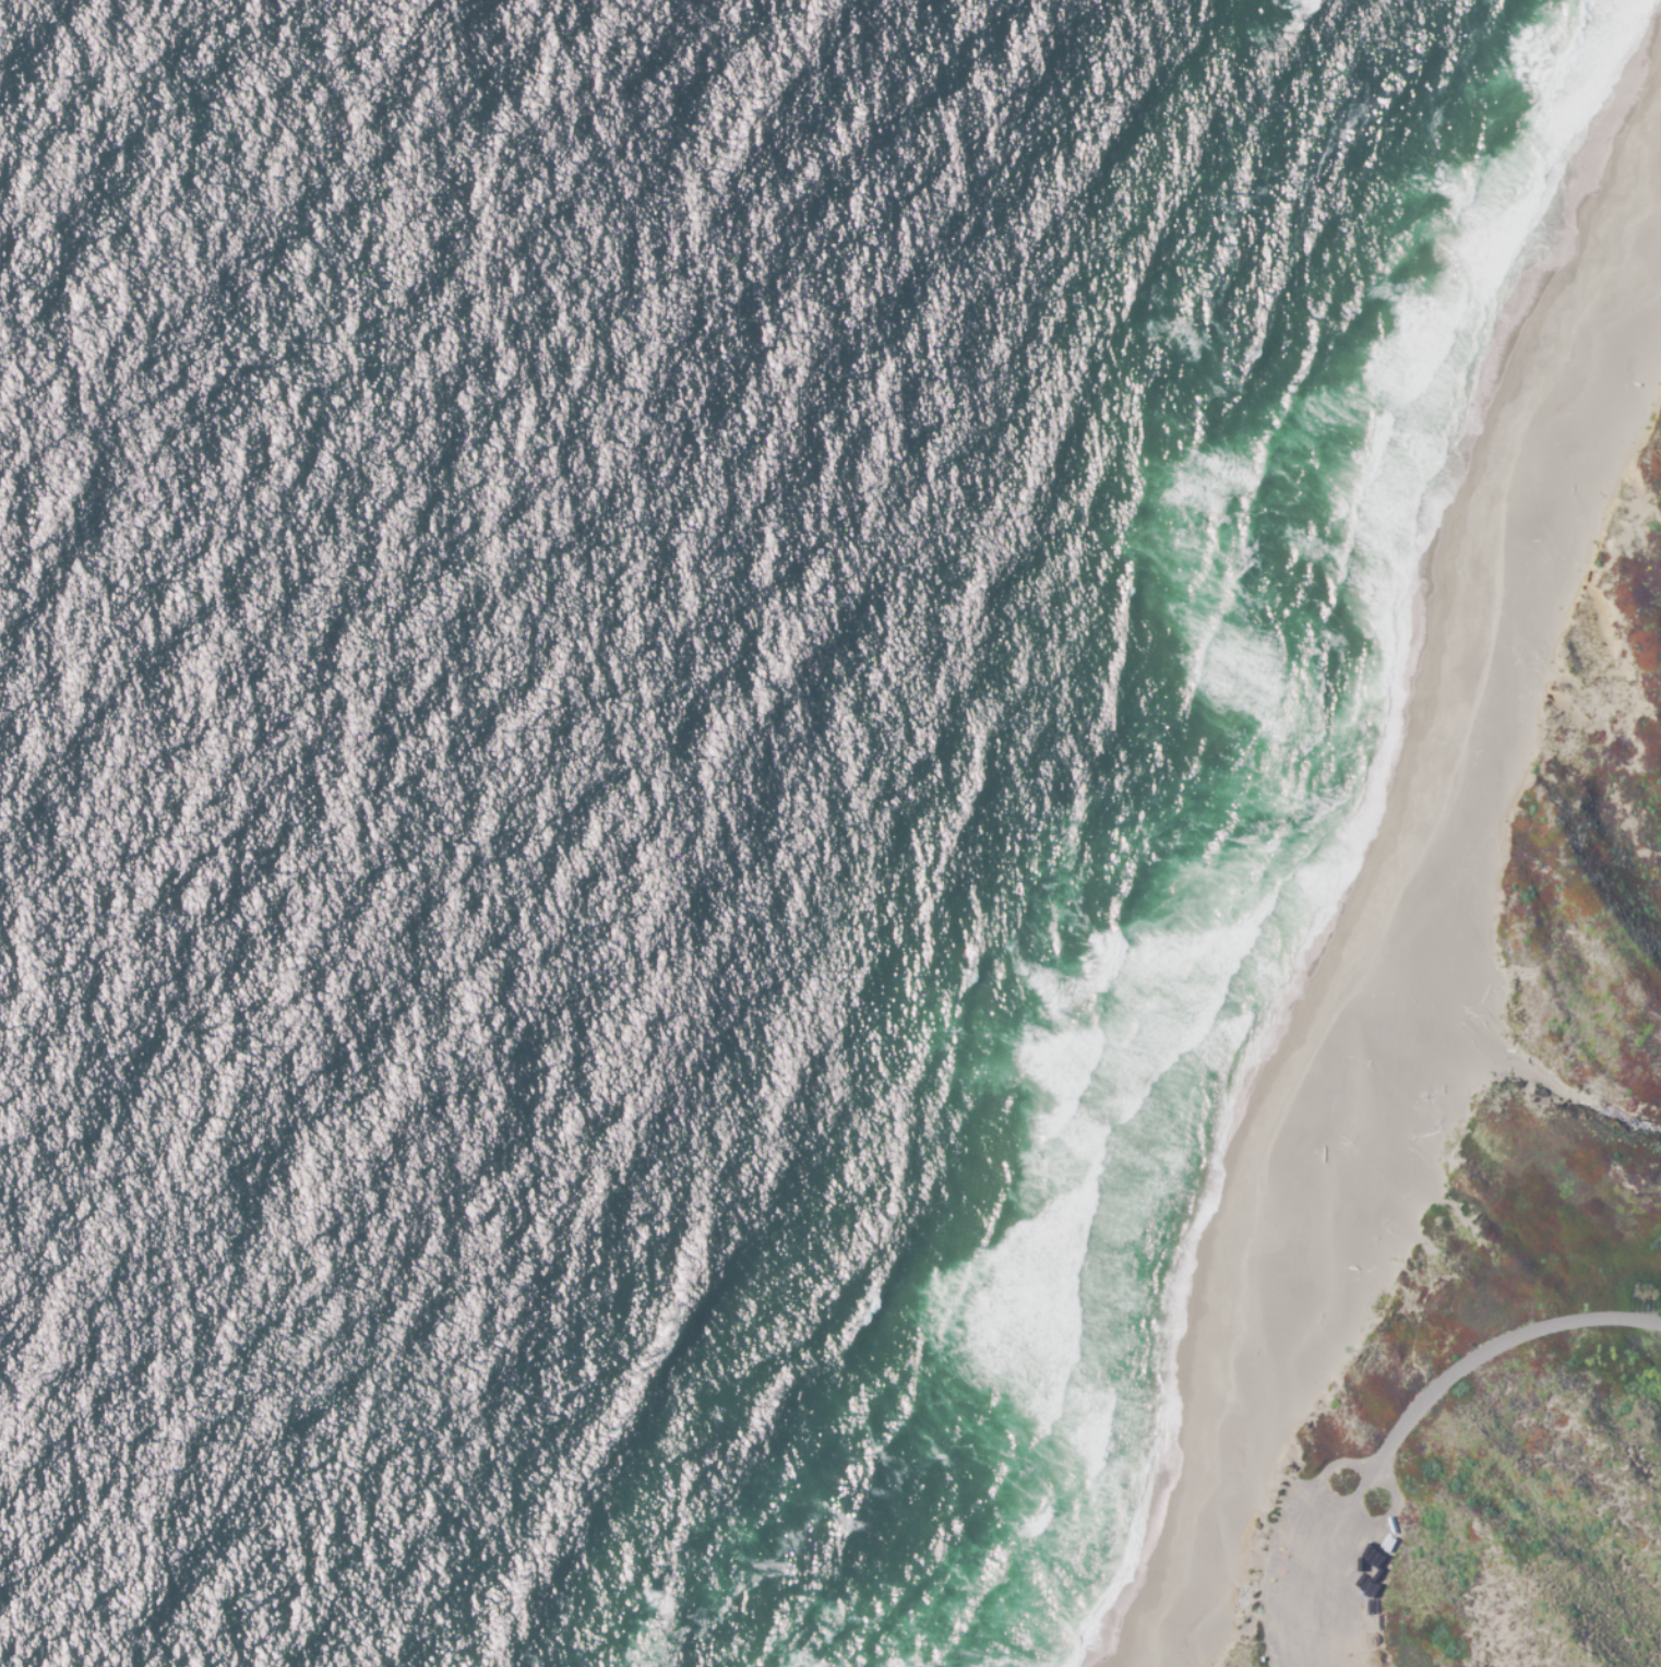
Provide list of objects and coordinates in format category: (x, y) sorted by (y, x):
road: (1493, 1350)
road: (1353, 1466)
road: (1266, 1557)
road: (1328, 1565)
parking lot: (1326, 1585)

